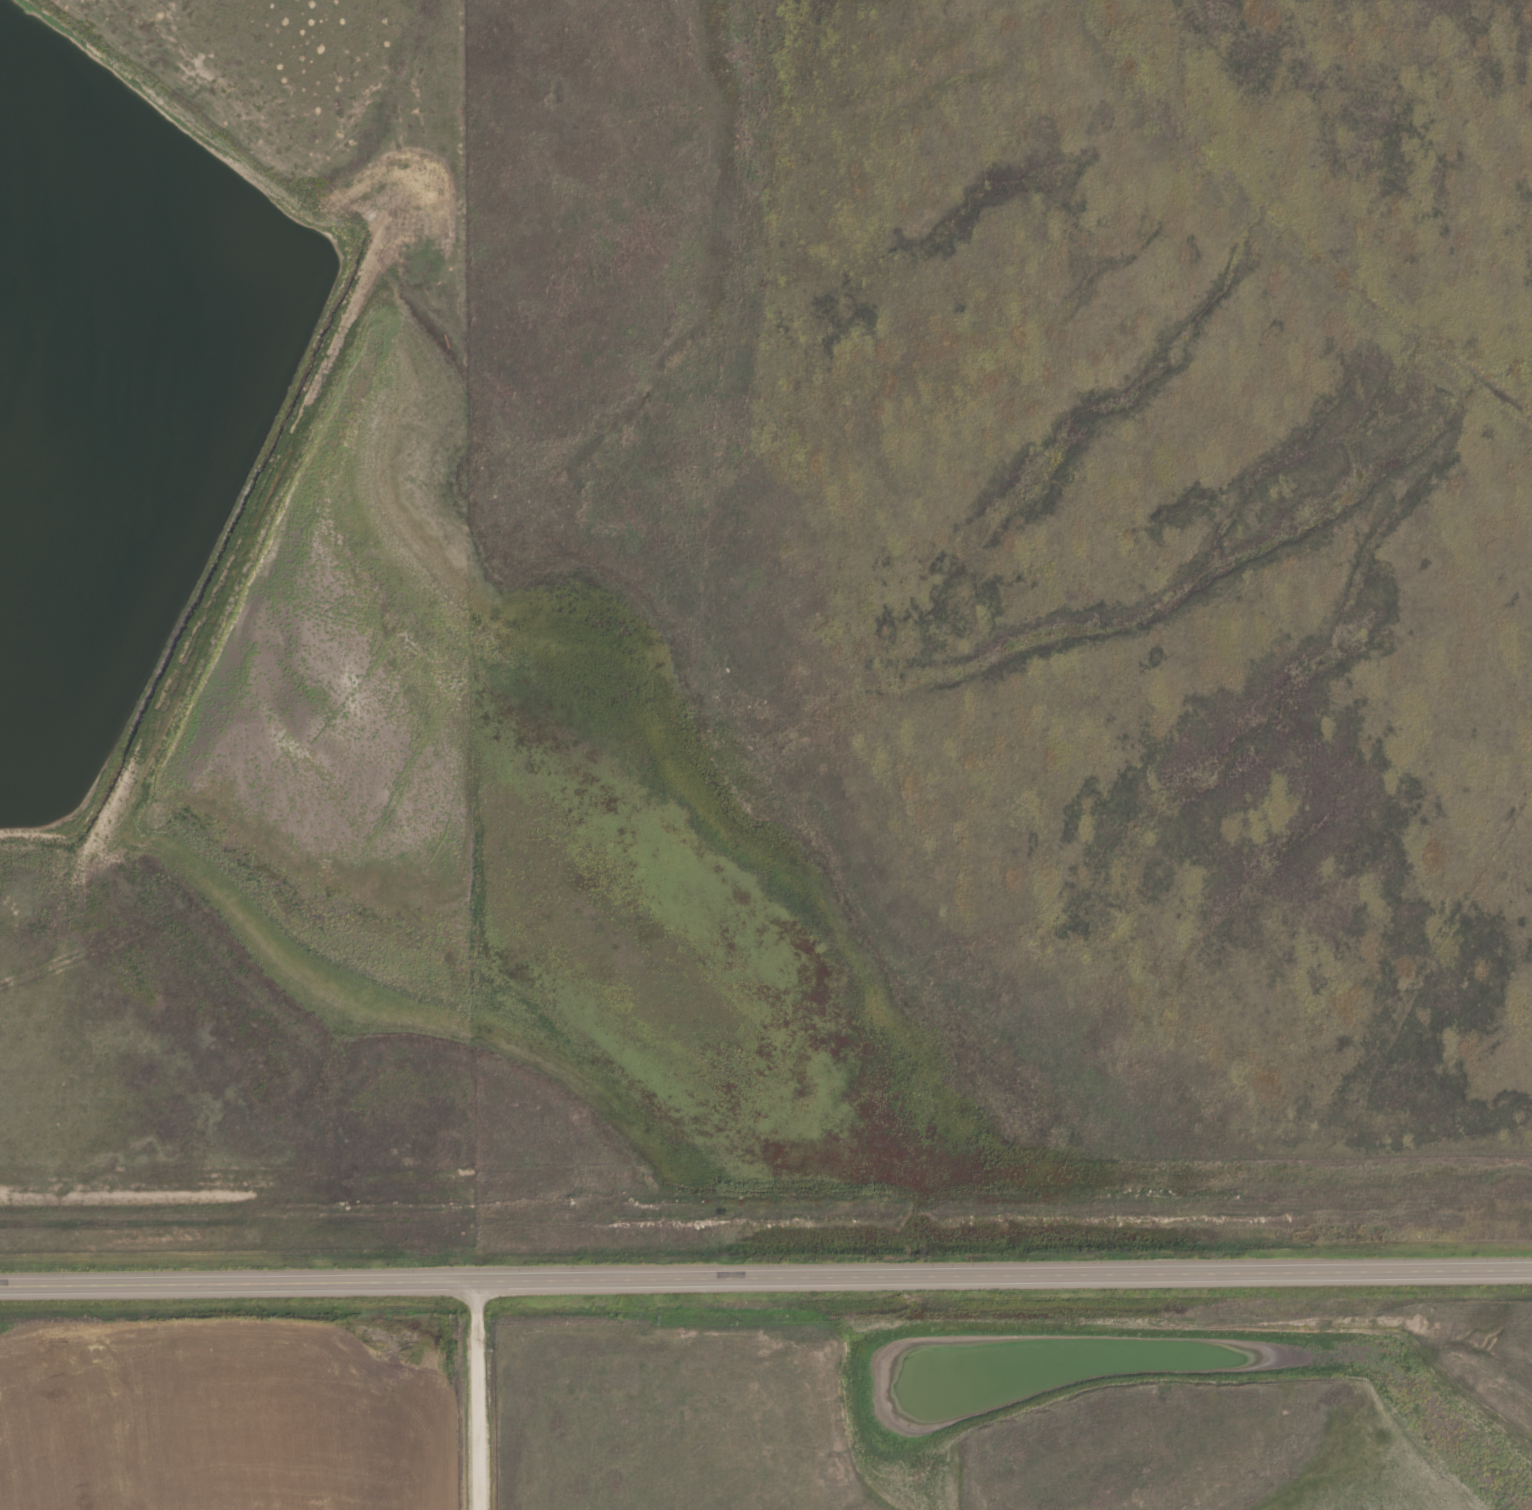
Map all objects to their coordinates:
road: (765, 1276)
road: (482, 1394)

